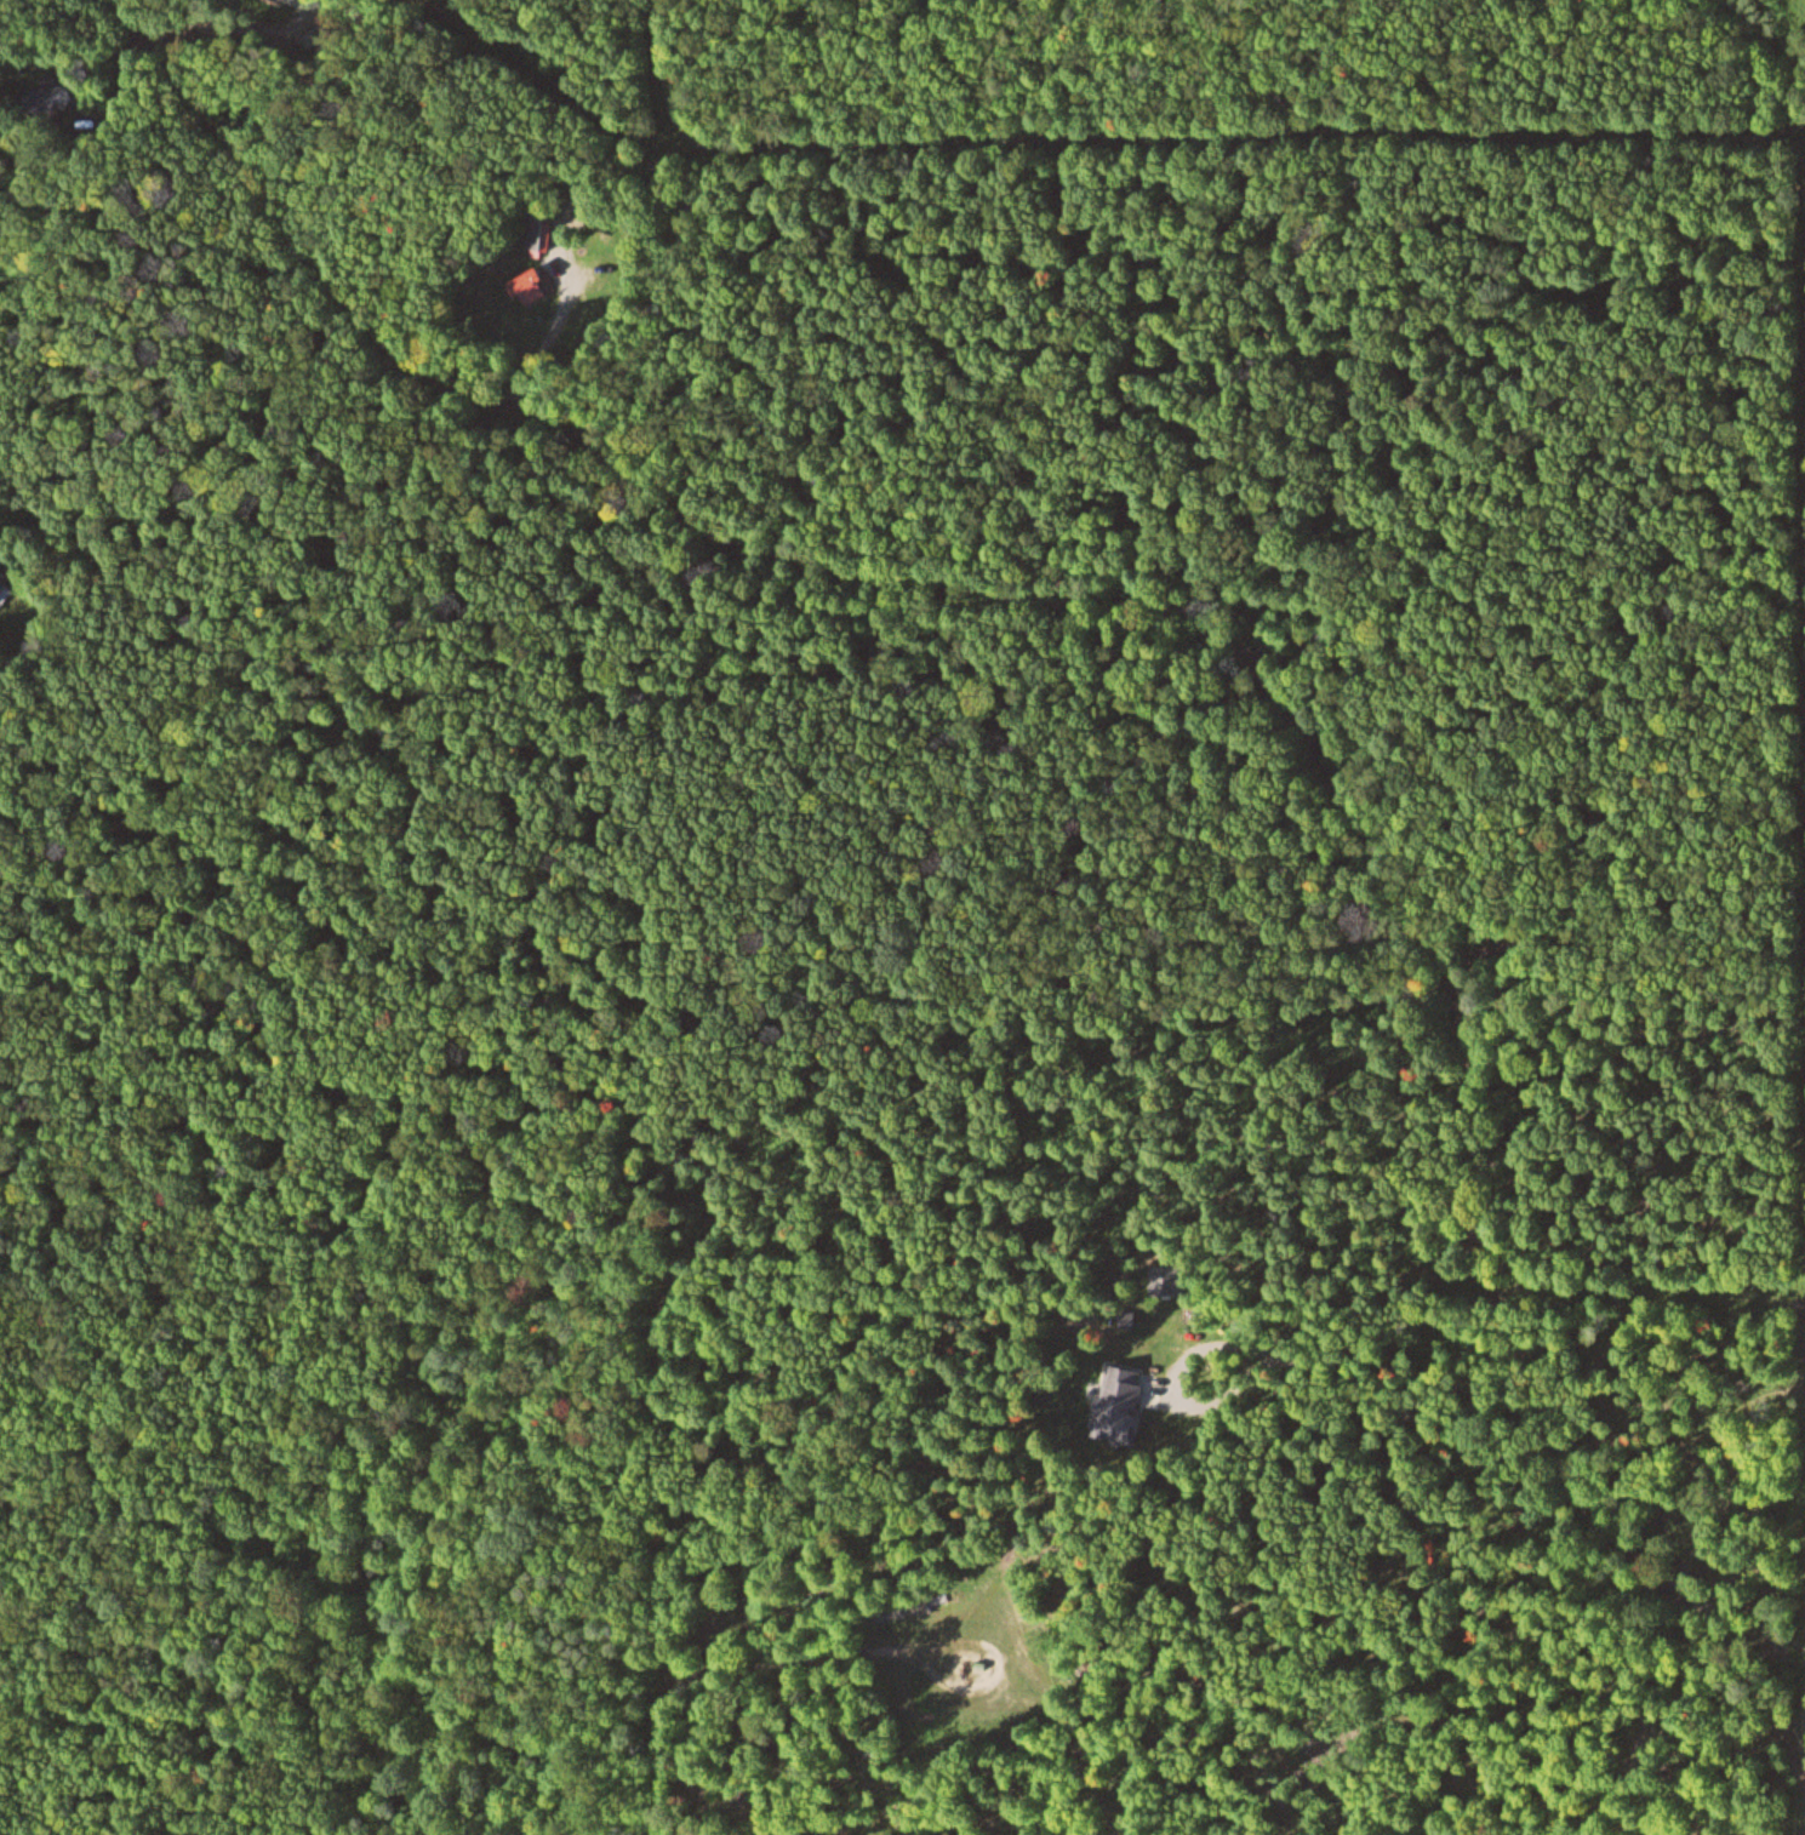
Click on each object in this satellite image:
building: (285, 0)
road: (690, 76)
building: (58, 98)
building: (537, 287)
road: (1630, 343)
building: (8, 584)
road: (1203, 623)
building: (1130, 1402)
petroleum well: (960, 1660)
road: (693, 1668)

